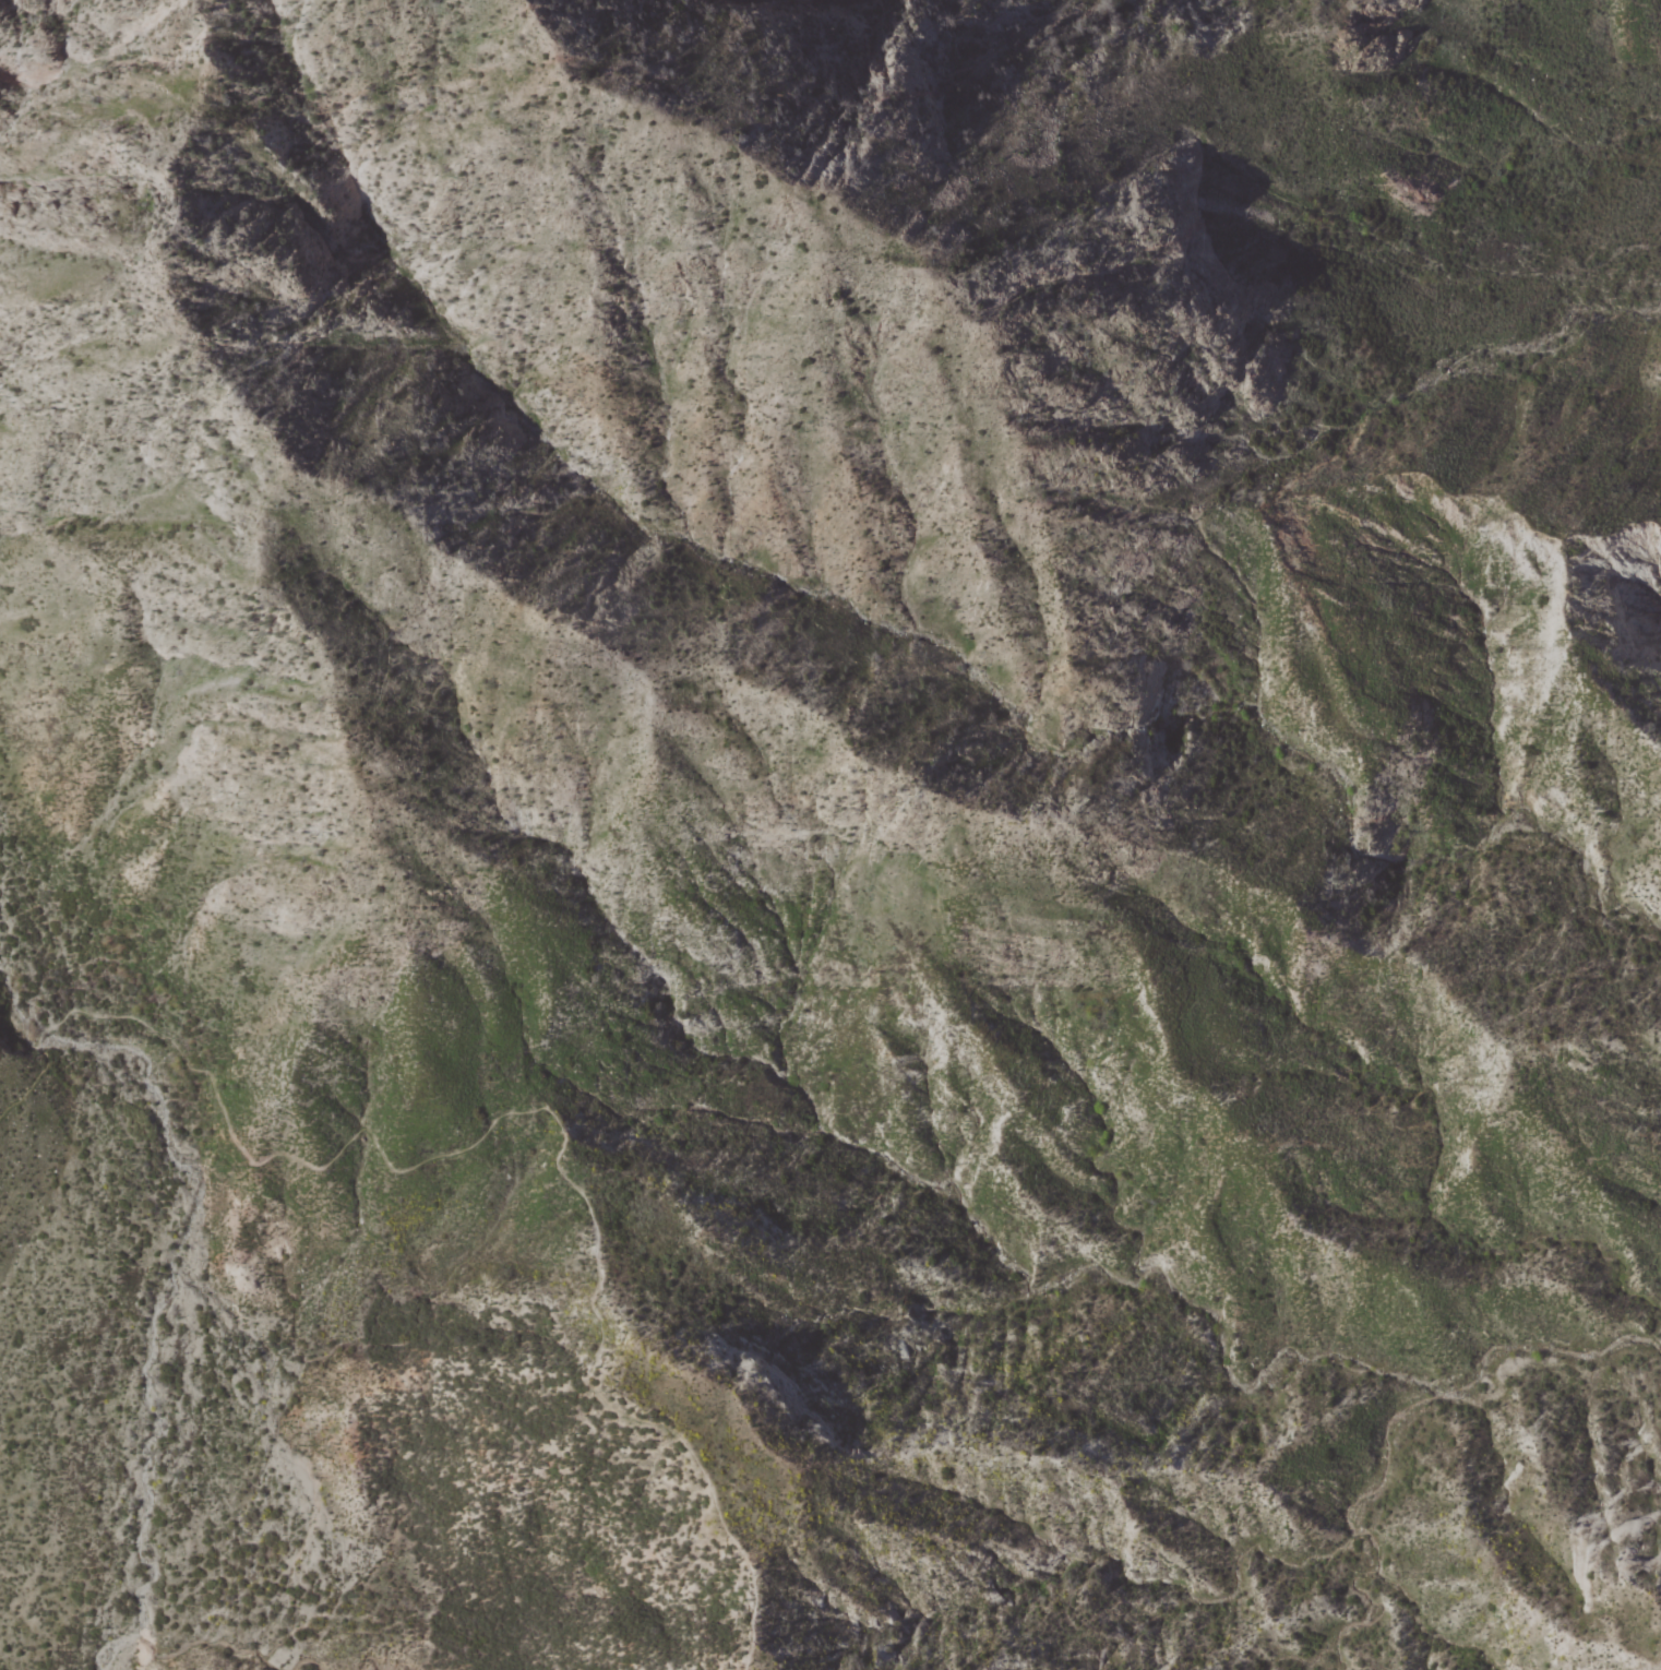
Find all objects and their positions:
road: (498, 1116)

